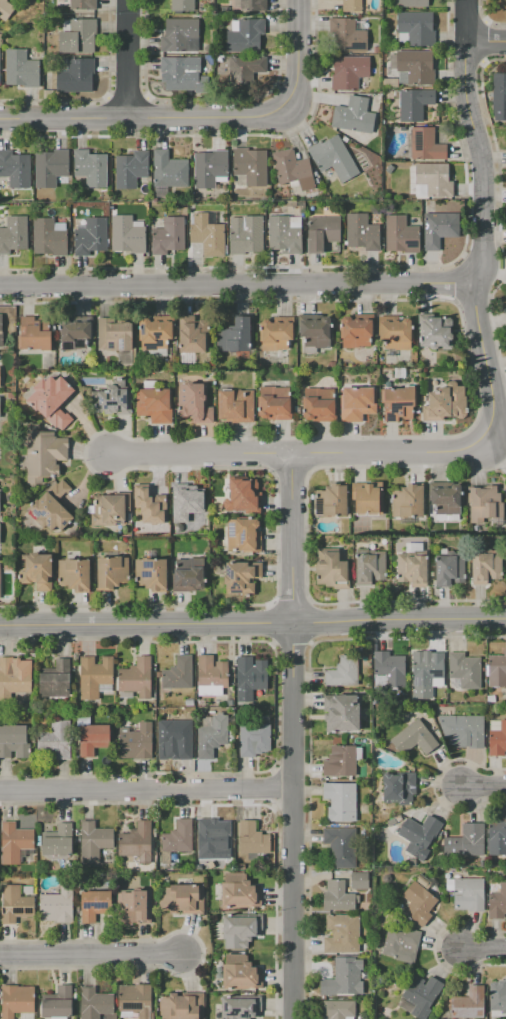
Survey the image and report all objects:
building: (410, 3)
building: (82, 4)
building: (505, 4)
building: (182, 5)
building: (247, 5)
building: (350, 5)
building: (5, 10)
road: (469, 20)
building: (415, 27)
building: (180, 35)
building: (78, 36)
building: (245, 36)
building: (345, 36)
road: (487, 40)
road: (128, 60)
building: (416, 66)
building: (21, 68)
building: (245, 70)
building: (348, 71)
building: (182, 73)
building: (74, 74)
building: (499, 94)
building: (414, 104)
building: (353, 115)
road: (266, 119)
road: (64, 121)
building: (425, 145)
building: (333, 158)
building: (250, 166)
building: (209, 167)
building: (50, 168)
building: (89, 168)
building: (130, 169)
building: (293, 169)
building: (14, 170)
building: (169, 170)
building: (432, 181)
building: (438, 228)
building: (322, 231)
building: (361, 231)
building: (285, 233)
building: (13, 234)
building: (208, 234)
building: (245, 234)
building: (126, 235)
building: (90, 236)
building: (168, 236)
building: (398, 236)
building: (48, 237)
road: (485, 239)
road: (239, 286)
building: (505, 311)
building: (77, 323)
building: (1, 330)
building: (433, 331)
building: (315, 332)
building: (356, 332)
building: (155, 334)
building: (396, 334)
building: (33, 335)
building: (114, 335)
building: (276, 335)
building: (194, 336)
building: (234, 336)
building: (113, 396)
building: (51, 400)
building: (194, 403)
building: (357, 403)
building: (398, 403)
building: (445, 403)
building: (154, 405)
building: (235, 405)
building: (274, 407)
building: (318, 408)
road: (391, 452)
road: (199, 453)
building: (44, 454)
building: (243, 495)
building: (367, 498)
building: (334, 499)
building: (446, 499)
building: (406, 501)
building: (484, 504)
building: (146, 506)
building: (52, 508)
building: (187, 508)
building: (107, 510)
building: (446, 517)
building: (242, 535)
building: (486, 567)
building: (369, 568)
building: (411, 568)
building: (331, 569)
building: (449, 570)
building: (36, 571)
building: (111, 571)
building: (150, 574)
building: (74, 575)
building: (241, 577)
building: (187, 579)
road: (253, 622)
building: (388, 670)
building: (497, 670)
building: (464, 671)
building: (343, 672)
building: (426, 672)
building: (178, 673)
building: (211, 675)
building: (249, 675)
building: (94, 676)
building: (136, 677)
building: (14, 679)
building: (55, 679)
building: (341, 712)
building: (468, 731)
building: (211, 736)
road: (292, 736)
building: (497, 737)
building: (176, 738)
building: (414, 738)
building: (60, 739)
building: (92, 739)
building: (254, 739)
building: (16, 741)
building: (136, 742)
building: (340, 761)
road: (485, 787)
building: (399, 788)
road: (146, 791)
building: (340, 801)
building: (418, 835)
building: (178, 836)
building: (497, 837)
building: (252, 838)
building: (212, 839)
building: (58, 840)
building: (94, 841)
building: (466, 841)
building: (15, 842)
building: (135, 844)
building: (340, 847)
building: (359, 880)
building: (240, 891)
building: (468, 894)
building: (337, 896)
building: (182, 900)
building: (497, 902)
building: (418, 903)
building: (15, 904)
building: (94, 904)
building: (58, 905)
building: (136, 907)
building: (240, 929)
building: (342, 934)
building: (401, 943)
road: (485, 951)
road: (88, 957)
building: (241, 976)
building: (343, 978)
building: (419, 995)
building: (501, 997)
building: (136, 999)
building: (17, 1000)
building: (56, 1000)
building: (95, 1004)
building: (468, 1004)
building: (182, 1006)
building: (241, 1006)
building: (338, 1009)

